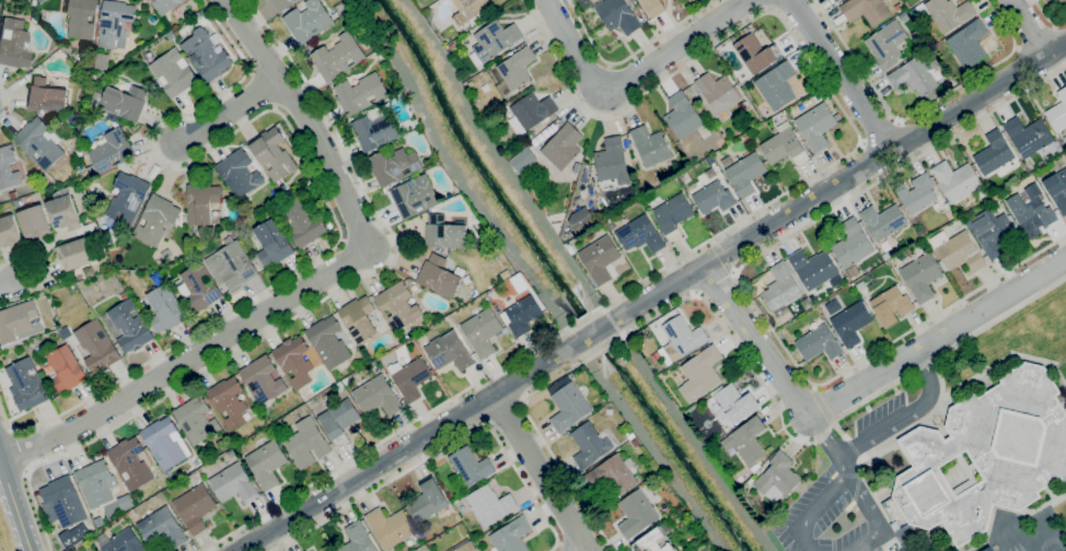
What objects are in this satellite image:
building: (834, 0)
building: (836, 0)
building: (37, 1)
building: (584, 3)
building: (282, 4)
building: (165, 5)
building: (653, 7)
building: (468, 9)
building: (866, 11)
building: (428, 13)
building: (946, 13)
building: (617, 15)
building: (81, 17)
road: (1046, 17)
building: (308, 21)
building: (115, 24)
road: (1028, 27)
building: (494, 40)
building: (969, 43)
building: (13, 44)
building: (887, 45)
building: (756, 52)
building: (206, 54)
road: (629, 56)
building: (337, 57)
building: (102, 61)
building: (517, 67)
building: (173, 73)
road: (841, 75)
building: (913, 77)
road: (630, 79)
building: (777, 85)
building: (718, 92)
building: (360, 94)
building: (45, 96)
building: (123, 102)
road: (8, 107)
building: (533, 109)
road: (919, 109)
road: (230, 110)
building: (480, 113)
building: (1057, 113)
building: (683, 115)
road: (306, 118)
building: (816, 126)
building: (375, 130)
road: (879, 132)
building: (1028, 136)
building: (38, 143)
building: (651, 145)
building: (784, 145)
building: (564, 146)
building: (112, 151)
building: (273, 153)
building: (994, 153)
building: (521, 160)
building: (612, 161)
building: (394, 165)
building: (9, 167)
building: (239, 173)
building: (745, 173)
building: (957, 179)
building: (282, 186)
road: (322, 189)
building: (1057, 189)
building: (13, 194)
building: (917, 194)
building: (415, 197)
building: (128, 198)
building: (714, 198)
building: (201, 202)
building: (16, 203)
building: (65, 210)
building: (1030, 212)
building: (673, 215)
road: (749, 215)
building: (91, 216)
building: (157, 219)
building: (581, 220)
building: (300, 221)
building: (883, 221)
building: (36, 222)
building: (329, 224)
building: (611, 225)
building: (992, 232)
building: (11, 233)
building: (444, 233)
building: (640, 235)
building: (273, 243)
building: (851, 246)
building: (571, 250)
building: (958, 251)
building: (74, 254)
road: (721, 258)
building: (600, 259)
building: (234, 265)
building: (812, 268)
building: (922, 275)
building: (78, 277)
building: (157, 277)
building: (439, 277)
road: (30, 280)
road: (7, 284)
building: (861, 285)
building: (199, 289)
building: (780, 289)
road: (746, 291)
building: (125, 295)
road: (652, 296)
building: (811, 297)
building: (398, 305)
building: (809, 305)
building: (891, 305)
building: (166, 308)
road: (306, 308)
building: (93, 315)
building: (522, 315)
building: (358, 318)
building: (18, 320)
building: (850, 324)
building: (129, 326)
building: (483, 331)
building: (682, 337)
building: (327, 342)
road: (734, 343)
building: (819, 343)
building: (99, 347)
building: (449, 351)
road: (185, 357)
building: (294, 362)
building: (67, 368)
building: (700, 373)
building: (410, 377)
building: (262, 379)
building: (347, 380)
building: (27, 384)
road: (858, 385)
building: (378, 396)
building: (230, 401)
building: (732, 403)
building: (569, 407)
road: (906, 415)
flagpole: (935, 419)
building: (197, 420)
building: (339, 420)
road: (822, 433)
building: (748, 441)
building: (166, 443)
building: (308, 443)
building: (590, 445)
road: (24, 449)
road: (444, 449)
building: (986, 454)
building: (131, 462)
building: (197, 462)
building: (267, 464)
building: (468, 467)
building: (755, 467)
road: (842, 467)
road: (541, 473)
building: (614, 474)
building: (777, 477)
building: (750, 481)
building: (96, 482)
building: (235, 483)
road: (842, 485)
building: (66, 501)
building: (427, 501)
building: (489, 505)
road: (14, 507)
building: (196, 507)
building: (636, 514)
building: (390, 527)
building: (163, 528)
building: (512, 535)
building: (357, 539)
building: (657, 539)
building: (121, 541)
building: (466, 547)
road: (559, 547)
building: (99, 550)
road: (588, 550)
building: (988, 550)

